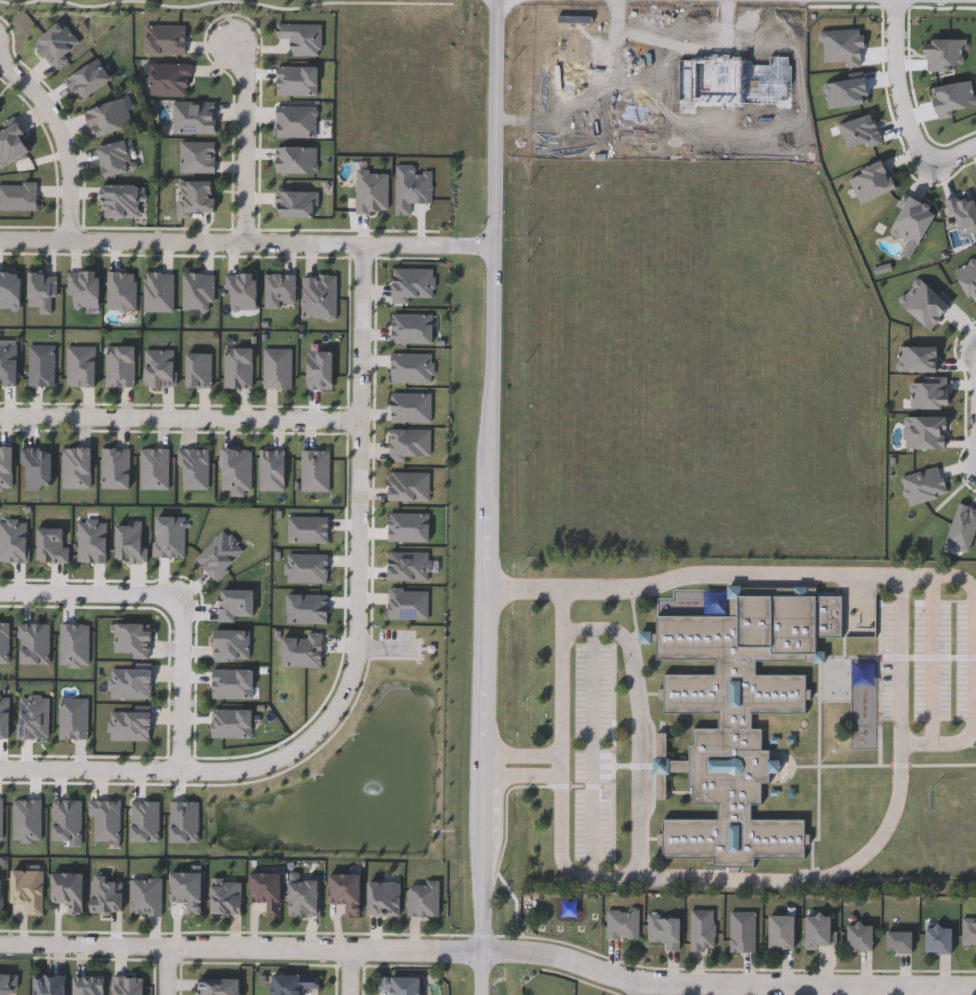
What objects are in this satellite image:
road: (343, 1)
road: (16, 2)
road: (87, 4)
road: (180, 5)
building: (89, 79)
road: (904, 103)
building: (0, 113)
building: (194, 117)
building: (109, 118)
road: (62, 136)
road: (249, 136)
building: (13, 143)
building: (117, 158)
building: (411, 188)
building: (196, 199)
building: (121, 201)
road: (247, 237)
building: (279, 290)
road: (183, 414)
road: (489, 497)
road: (365, 561)
road: (902, 661)
road: (562, 682)
road: (188, 684)
road: (975, 711)
building: (738, 715)
road: (641, 724)
road: (595, 754)
road: (523, 755)
road: (523, 777)
building: (68, 889)
building: (188, 889)
building: (267, 890)
building: (2, 891)
building: (347, 892)
building: (145, 896)
building: (305, 896)
building: (385, 897)
building: (423, 899)
building: (623, 925)
building: (666, 931)
building: (820, 931)
building: (743, 932)
building: (784, 932)
building: (969, 932)
building: (862, 937)
building: (941, 940)
building: (901, 942)
road: (241, 944)
road: (167, 969)
road: (343, 971)
building: (294, 983)
road: (727, 983)
building: (50, 984)
building: (402, 984)
building: (127, 985)
building: (219, 987)
road: (640, 989)

